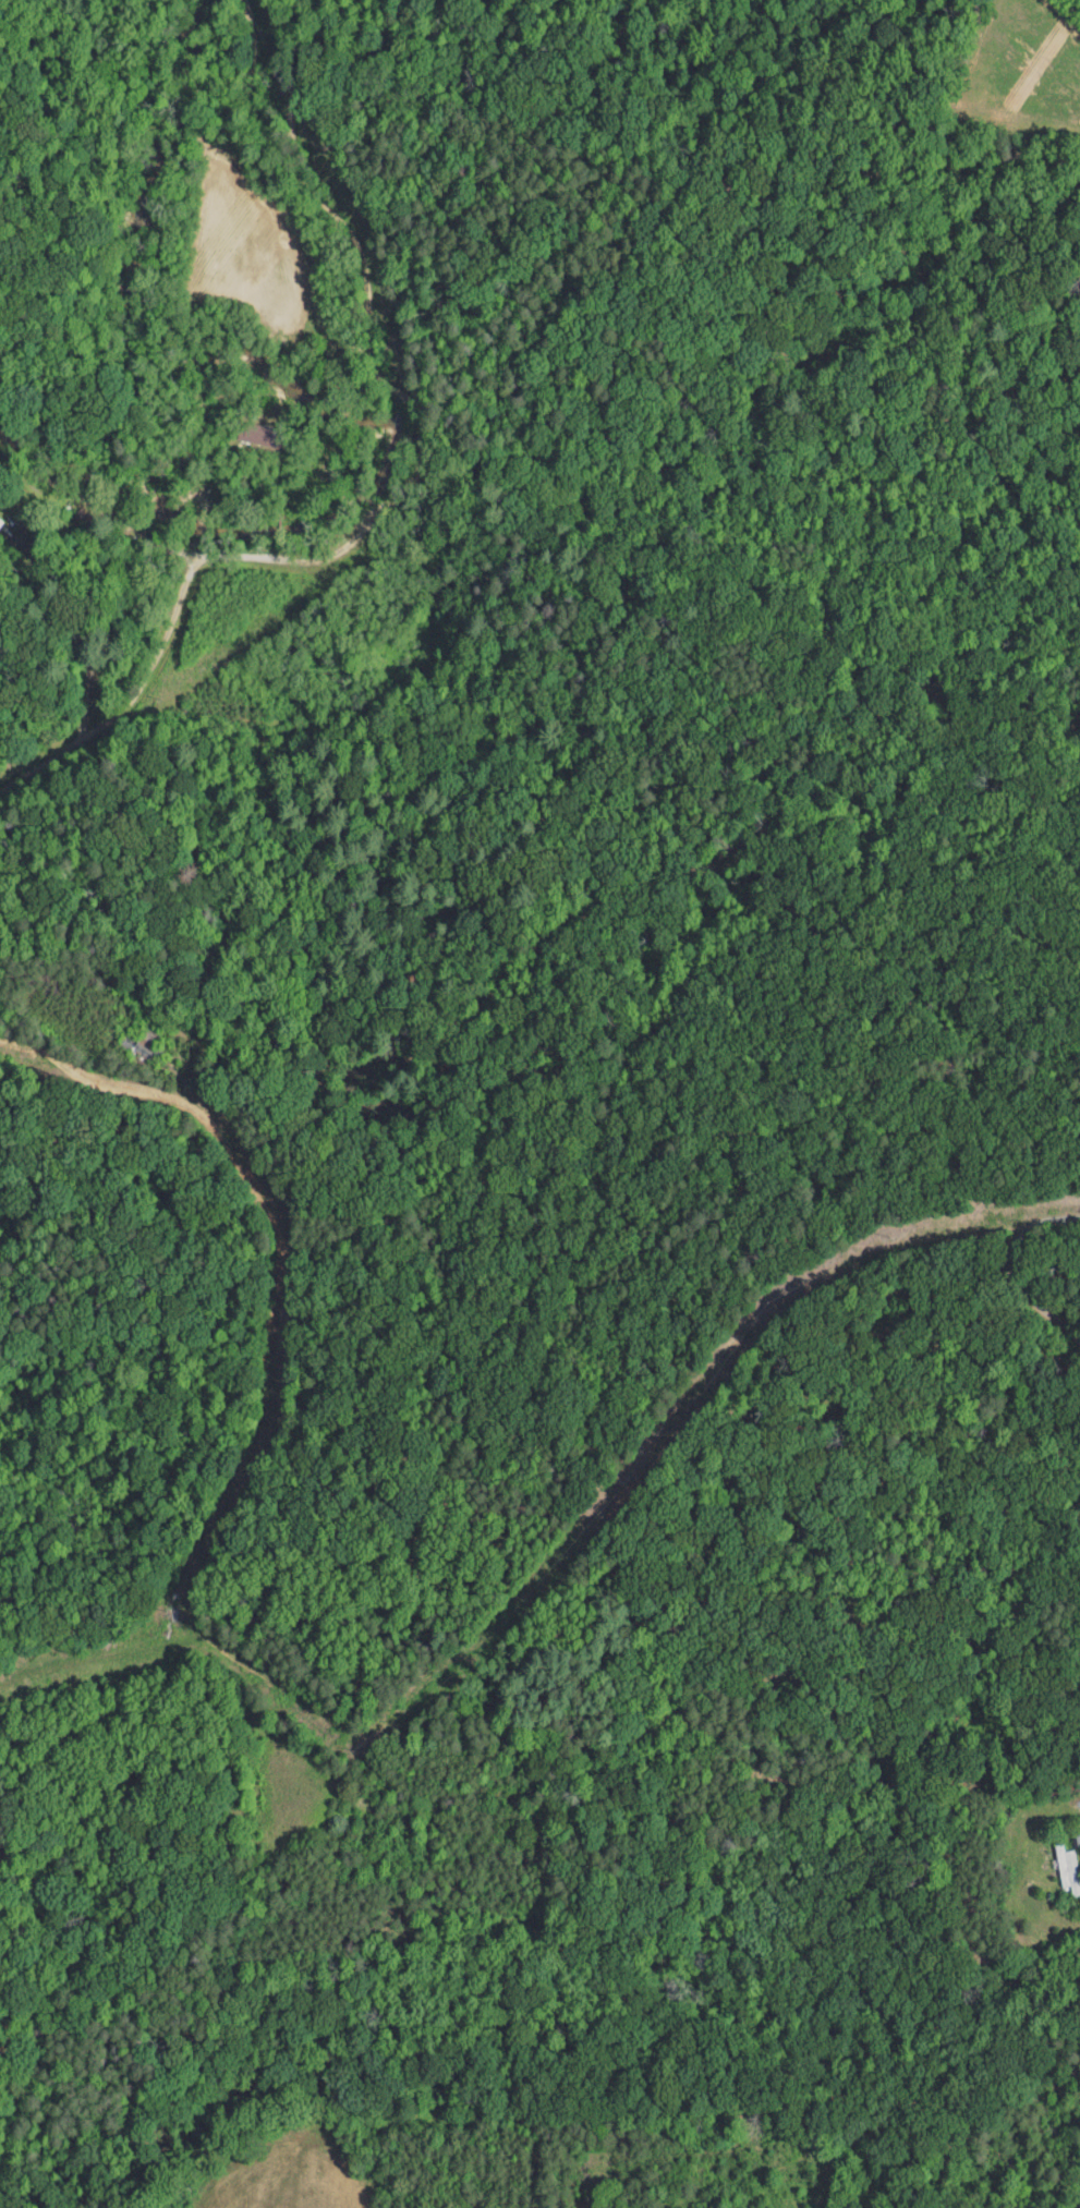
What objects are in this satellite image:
building: (247, 429)
road: (400, 490)
road: (84, 1073)
road: (1009, 1266)
building: (1055, 1863)

